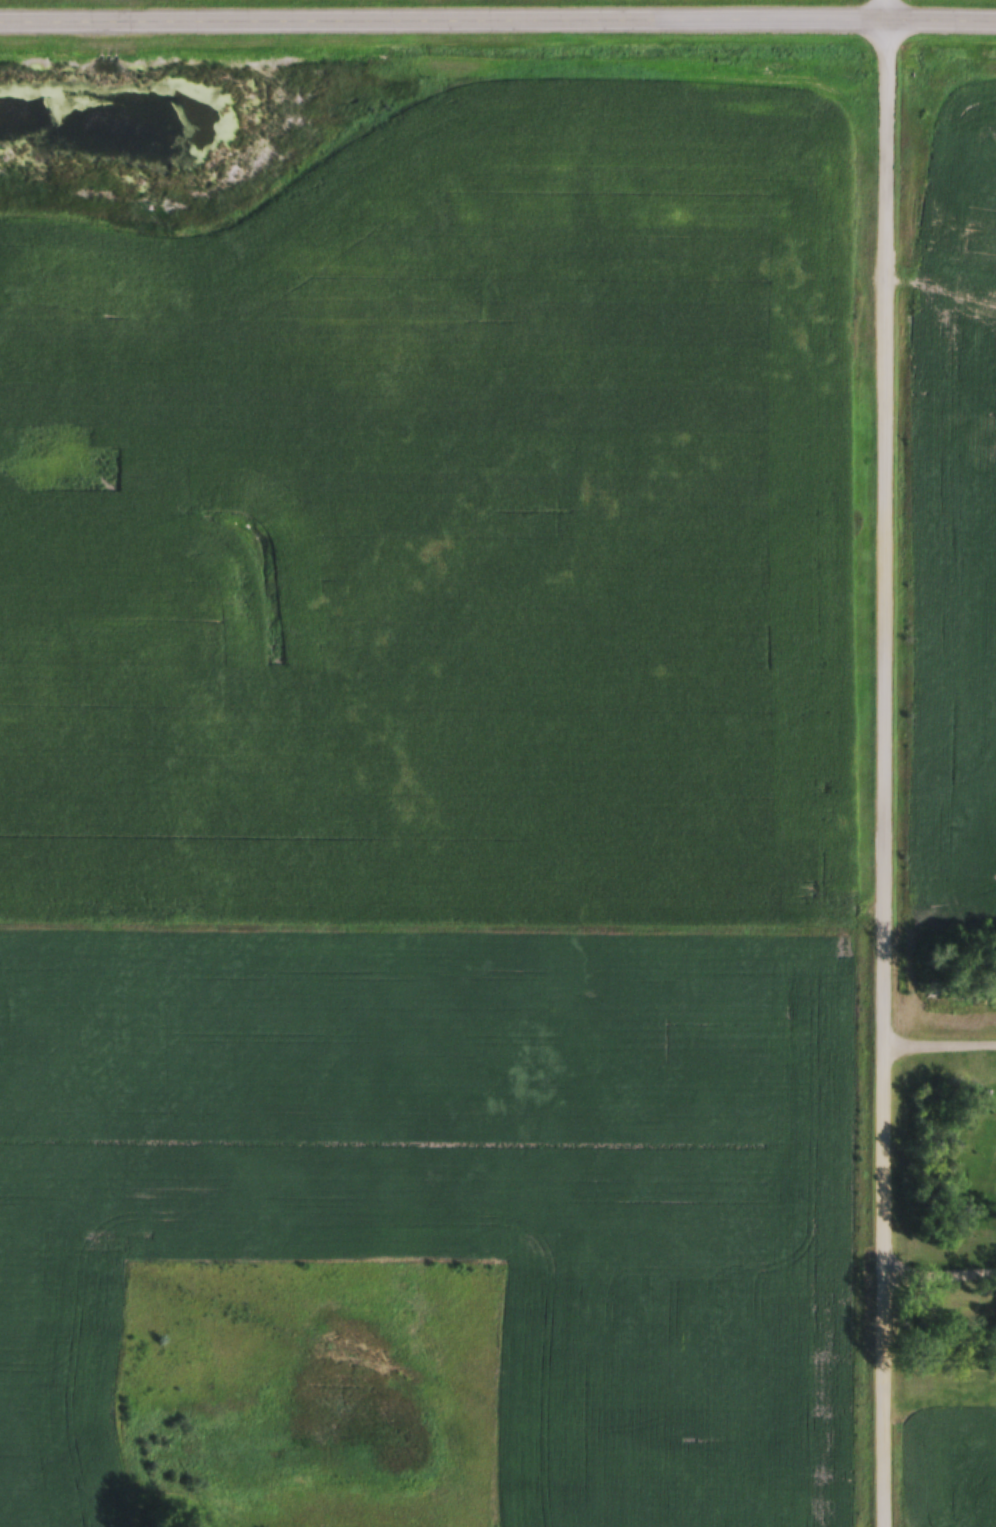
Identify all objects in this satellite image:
road: (497, 28)
river: (152, 130)
road: (886, 763)
road: (941, 1266)

